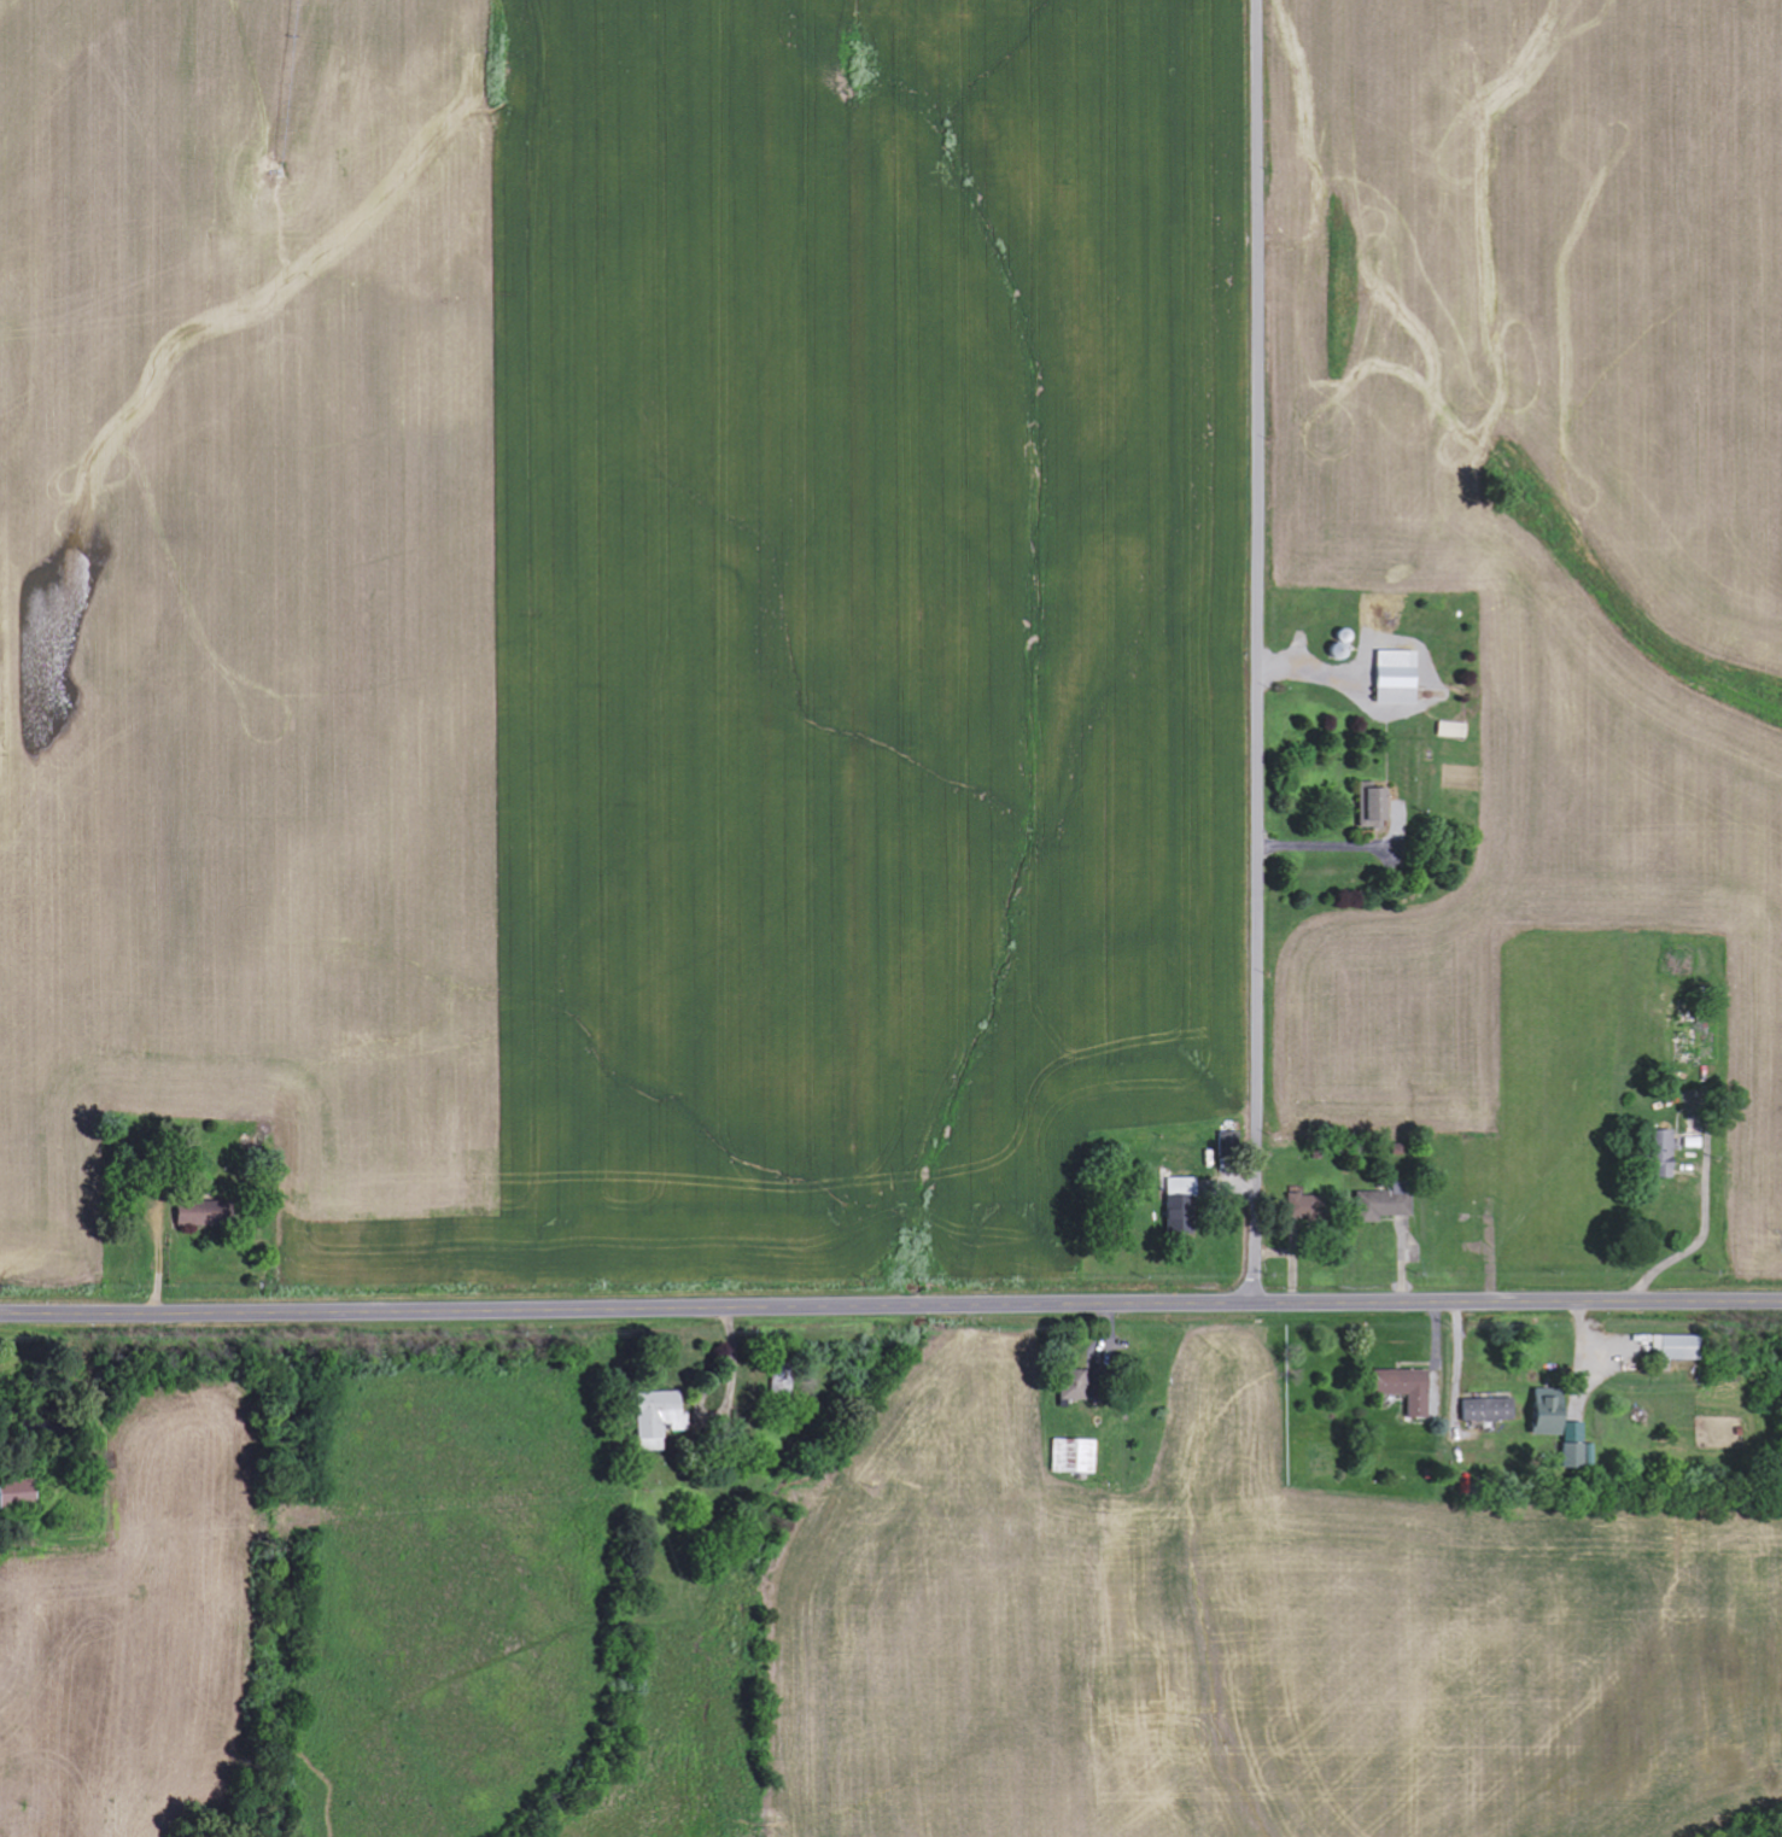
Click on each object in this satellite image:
road: (1257, 650)
building: (1398, 679)
building: (1375, 812)
building: (1231, 1145)
building: (1669, 1145)
building: (1181, 1206)
road: (890, 1304)
building: (1682, 1349)
building: (1414, 1392)
building: (1491, 1411)
building: (665, 1420)
building: (1074, 1457)
building: (22, 1494)

